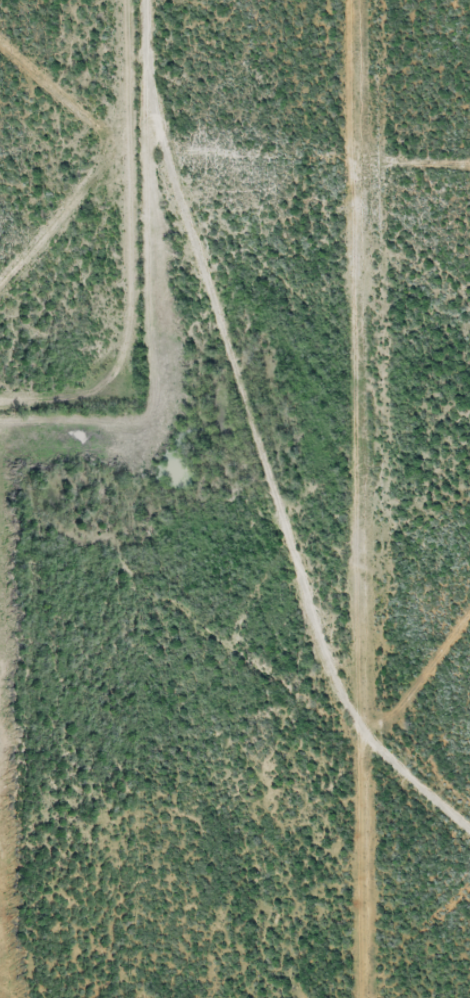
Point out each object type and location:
road: (399, 499)

